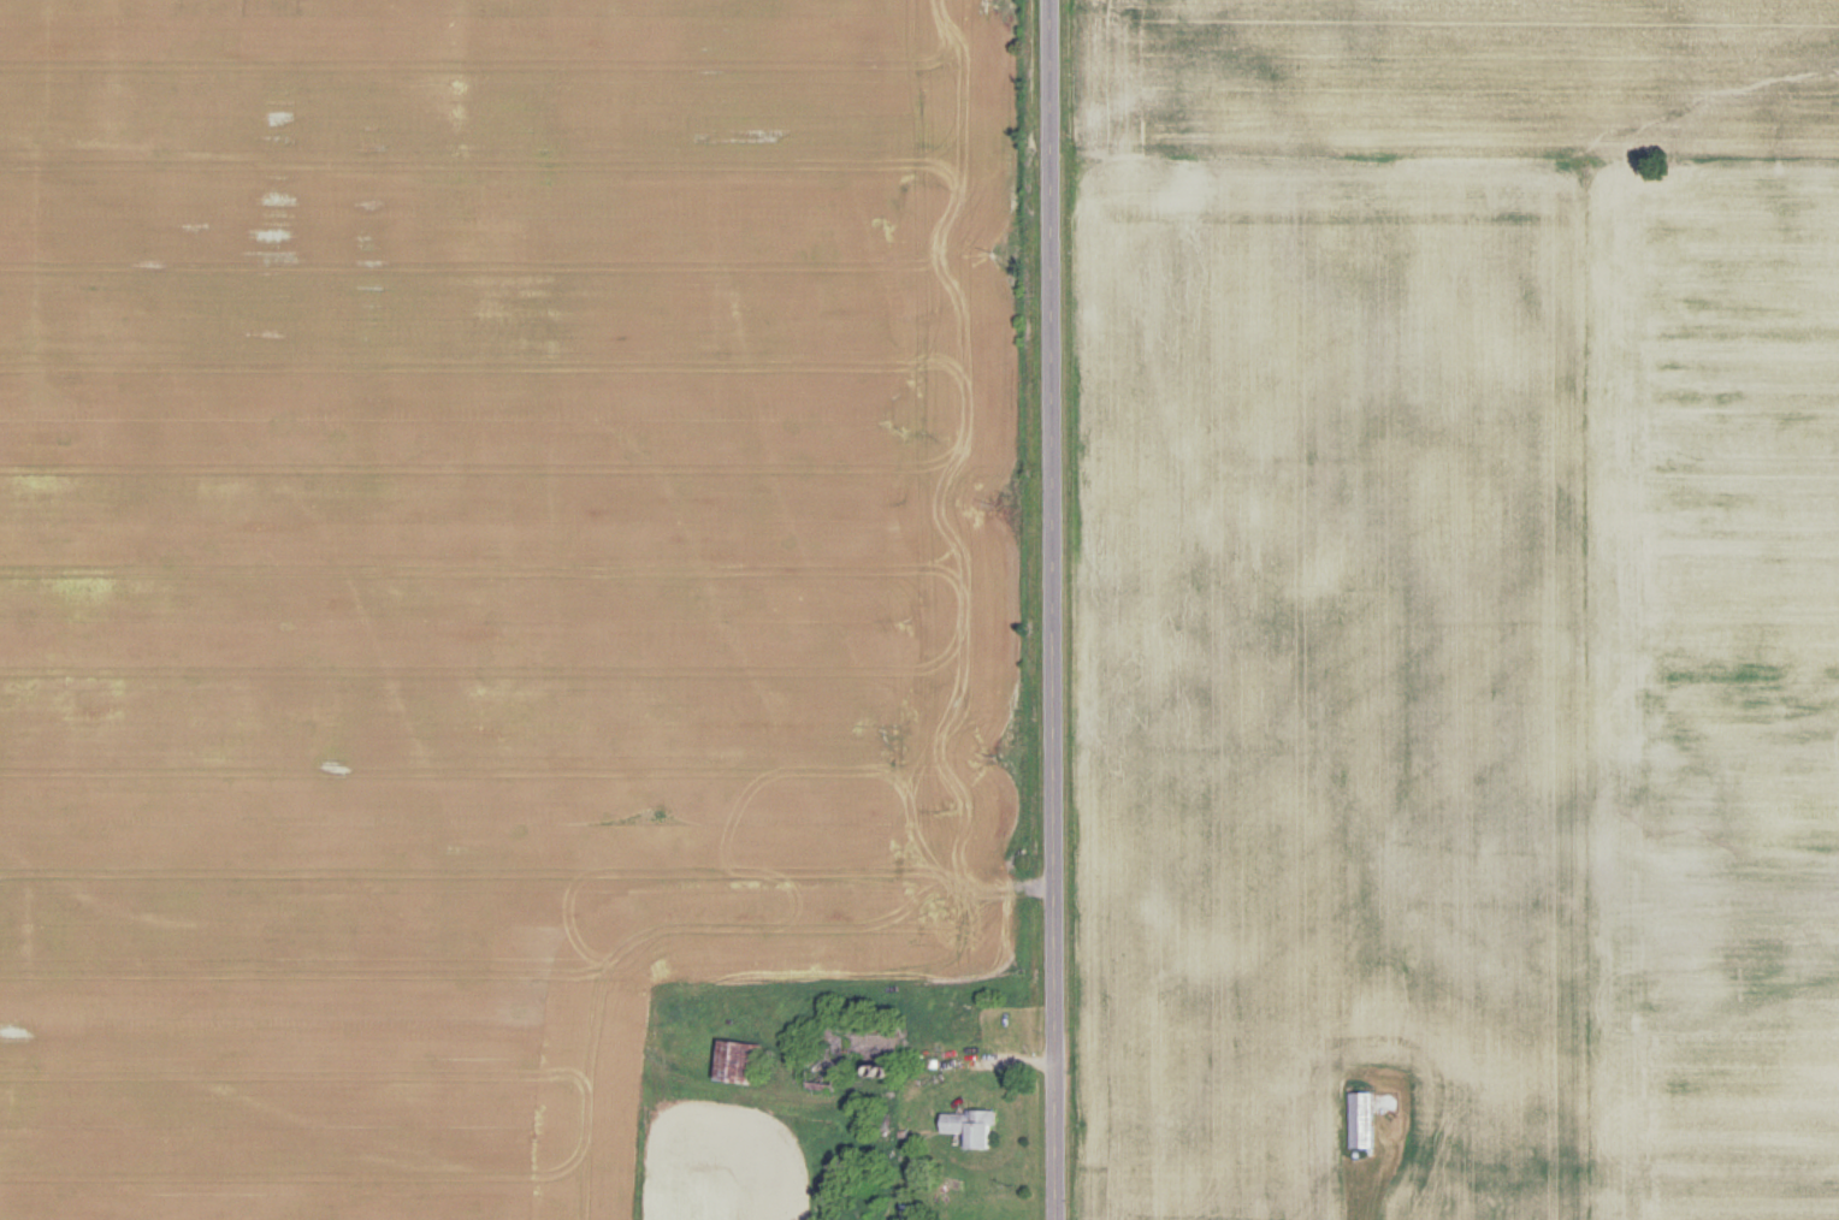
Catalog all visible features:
road: (1052, 610)
building: (838, 1049)
building: (733, 1065)
building: (1356, 1123)
building: (964, 1129)
building: (909, 1214)

